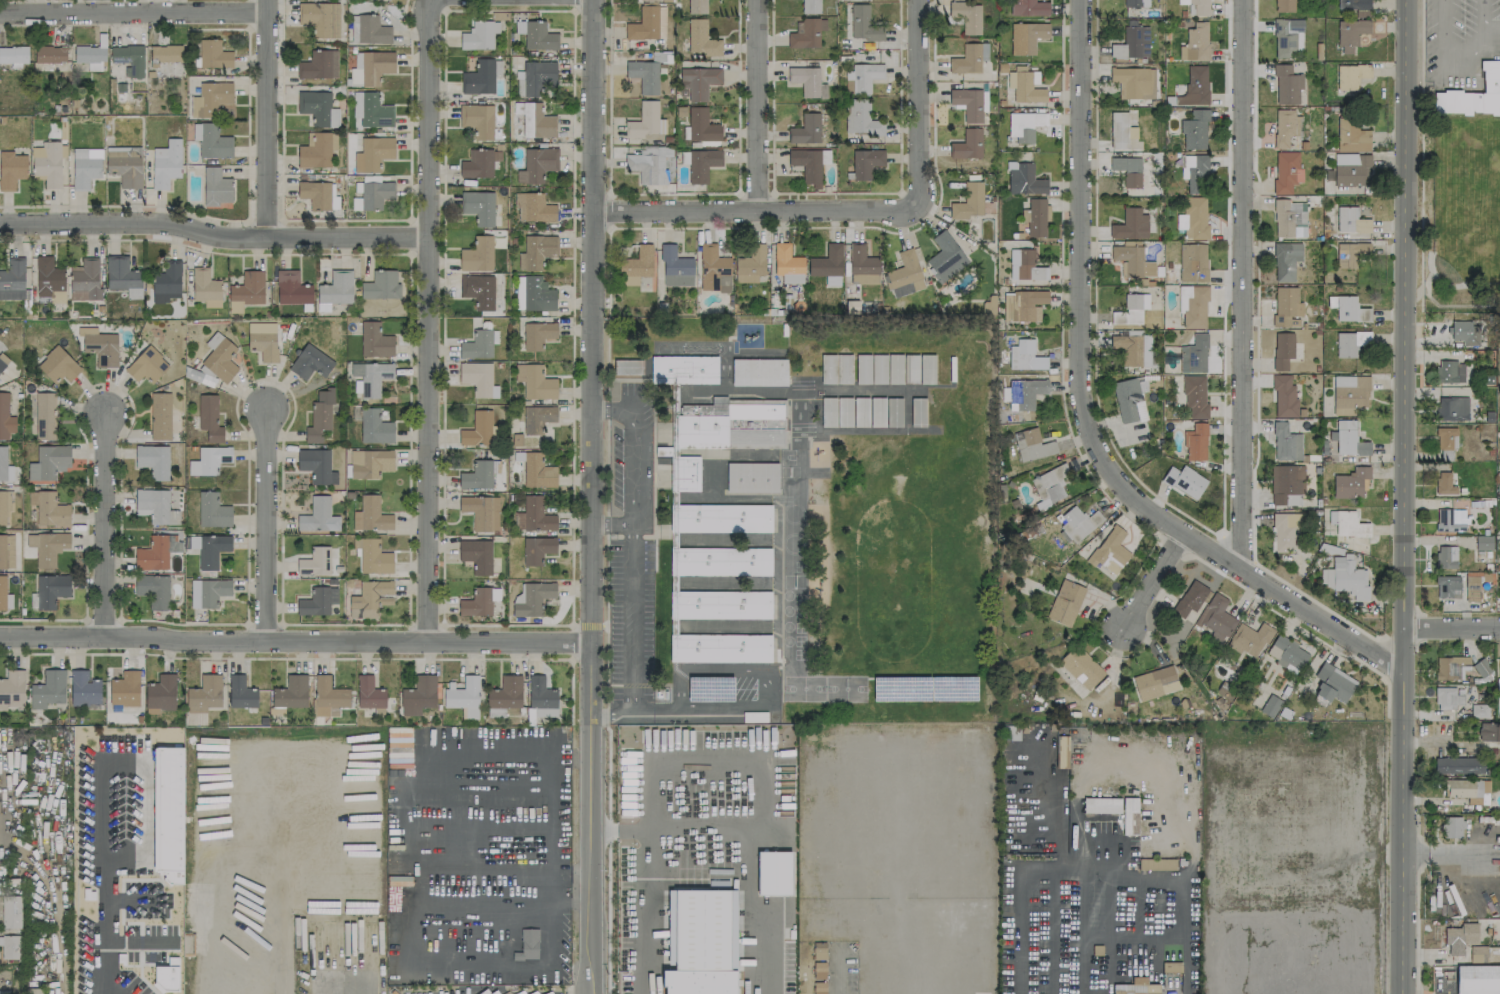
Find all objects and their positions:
building: (388, 0)
building: (648, 0)
building: (846, 0)
building: (1135, 3)
road: (431, 6)
building: (697, 6)
building: (810, 6)
building: (1196, 6)
building: (1284, 6)
building: (1028, 8)
road: (133, 11)
building: (1362, 13)
building: (967, 16)
building: (320, 18)
building: (647, 24)
building: (863, 24)
road: (1492, 27)
building: (354, 28)
building: (372, 30)
building: (807, 33)
building: (1350, 34)
building: (479, 35)
building: (536, 35)
building: (1286, 36)
building: (1026, 37)
building: (701, 39)
parking lot: (1458, 39)
building: (1195, 42)
building: (1132, 43)
building: (49, 54)
building: (165, 54)
building: (213, 54)
building: (13, 55)
building: (90, 57)
road: (1460, 57)
building: (128, 59)
building: (966, 60)
building: (319, 65)
building: (371, 67)
building: (644, 75)
building: (1351, 75)
building: (862, 77)
building: (479, 78)
building: (535, 78)
building: (807, 81)
building: (1133, 82)
building: (699, 83)
building: (1286, 85)
building: (1025, 86)
building: (1194, 86)
building: (1473, 94)
building: (210, 99)
building: (968, 103)
road: (756, 105)
building: (318, 108)
building: (371, 110)
road: (916, 111)
building: (517, 112)
road: (266, 118)
building: (860, 118)
building: (477, 119)
building: (537, 121)
building: (646, 121)
building: (702, 126)
building: (1024, 126)
building: (1285, 126)
building: (806, 129)
building: (1118, 130)
building: (1194, 130)
building: (1352, 135)
building: (211, 141)
building: (967, 144)
building: (315, 151)
building: (375, 152)
road: (1421, 154)
building: (866, 162)
building: (48, 163)
building: (166, 163)
building: (479, 163)
building: (702, 164)
building: (537, 165)
building: (652, 165)
building: (807, 165)
building: (124, 166)
building: (85, 167)
building: (11, 169)
building: (1352, 169)
building: (1127, 171)
building: (1286, 171)
building: (1194, 173)
building: (1023, 179)
building: (216, 187)
building: (317, 194)
building: (375, 194)
building: (968, 201)
building: (533, 208)
road: (742, 211)
park: (1464, 211)
building: (1035, 216)
building: (1193, 218)
building: (1289, 218)
building: (1350, 220)
building: (1130, 224)
road: (213, 235)
building: (536, 251)
building: (1350, 254)
building: (477, 255)
building: (945, 257)
building: (1285, 260)
building: (1132, 261)
building: (1192, 262)
building: (750, 264)
building: (788, 264)
building: (637, 265)
building: (828, 265)
building: (862, 265)
building: (1025, 265)
building: (676, 268)
building: (713, 269)
building: (904, 275)
building: (123, 276)
building: (13, 280)
building: (49, 280)
building: (85, 280)
building: (166, 282)
road: (1240, 284)
building: (204, 285)
building: (381, 285)
building: (292, 288)
building: (335, 290)
building: (478, 290)
building: (246, 291)
building: (533, 294)
building: (989, 305)
building: (1023, 305)
building: (1193, 306)
building: (1286, 307)
building: (1347, 308)
building: (1131, 310)
road: (428, 328)
building: (1465, 332)
building: (537, 335)
building: (263, 340)
building: (375, 340)
building: (1350, 343)
building: (478, 344)
building: (100, 346)
building: (1132, 349)
building: (1282, 350)
building: (1194, 355)
building: (1025, 356)
building: (219, 358)
building: (3, 361)
building: (310, 362)
building: (58, 365)
building: (146, 365)
building: (684, 369)
building: (836, 369)
building: (894, 369)
building: (1450, 371)
building: (759, 372)
building: (374, 378)
building: (478, 379)
building: (534, 382)
building: (1025, 392)
building: (1349, 394)
building: (1194, 395)
building: (1284, 396)
building: (1128, 400)
building: (1451, 409)
building: (885, 412)
building: (42, 416)
building: (320, 416)
building: (160, 417)
road: (1082, 417)
building: (5, 418)
building: (209, 418)
building: (534, 418)
building: (374, 427)
building: (477, 429)
building: (720, 434)
building: (1446, 438)
building: (1348, 439)
building: (529, 440)
building: (1195, 442)
building: (1286, 443)
building: (1032, 445)
road: (633, 448)
building: (153, 460)
building: (209, 460)
building: (49, 462)
building: (2, 463)
building: (370, 463)
building: (316, 466)
building: (537, 471)
building: (479, 474)
building: (752, 477)
building: (1184, 481)
building: (1350, 483)
building: (1444, 484)
building: (1050, 485)
building: (1287, 485)
road: (590, 496)
road: (1402, 496)
building: (5, 505)
building: (155, 506)
building: (1498, 506)
building: (49, 509)
building: (212, 511)
building: (481, 512)
building: (371, 515)
building: (533, 515)
building: (318, 516)
building: (724, 518)
building: (1450, 519)
road: (599, 524)
road: (620, 524)
building: (1078, 524)
building: (1349, 524)
road: (107, 526)
road: (269, 526)
building: (1282, 532)
building: (1483, 542)
building: (47, 547)
park: (901, 548)
building: (537, 549)
building: (212, 550)
building: (6, 551)
building: (1110, 551)
building: (1499, 551)
building: (155, 552)
building: (476, 555)
building: (373, 556)
building: (1445, 556)
building: (723, 560)
building: (317, 562)
building: (1345, 577)
road: (1151, 580)
building: (1447, 587)
building: (1471, 588)
building: (153, 589)
building: (51, 590)
building: (2, 592)
building: (212, 592)
building: (370, 598)
building: (533, 598)
building: (1189, 598)
building: (318, 601)
building: (479, 601)
building: (1065, 602)
building: (723, 604)
building: (1216, 618)
parking lot: (630, 619)
road: (588, 625)
road: (1450, 625)
road: (633, 638)
building: (1250, 638)
road: (294, 642)
building: (723, 647)
building: (1287, 653)
building: (1081, 667)
building: (1450, 667)
building: (1481, 667)
building: (1498, 669)
road: (763, 674)
building: (1155, 683)
building: (1332, 683)
parking lot: (724, 687)
park: (804, 687)
building: (12, 688)
building: (48, 689)
building: (84, 689)
building: (125, 689)
park: (846, 689)
building: (291, 692)
building: (240, 693)
building: (369, 693)
building: (505, 693)
building: (540, 693)
building: (161, 694)
building: (204, 694)
building: (418, 695)
building: (463, 696)
building: (329, 697)
building: (1447, 698)
building: (1270, 705)
road: (666, 707)
road: (643, 708)
building: (1479, 711)
building: (495, 712)
building: (545, 712)
building: (1489, 732)
building: (399, 742)
building: (1061, 751)
building: (1458, 765)
road: (1098, 767)
road: (750, 779)
building: (1468, 790)
road: (147, 803)
building: (1101, 805)
building: (170, 815)
building: (1129, 816)
building: (1452, 826)
road: (553, 841)
road: (1450, 852)
building: (1156, 864)
building: (774, 873)
road: (281, 876)
road: (104, 883)
building: (11, 912)
road: (650, 912)
building: (1459, 938)
building: (701, 942)
building: (10, 947)
building: (819, 951)
building: (1477, 954)
building: (819, 969)
road: (1058, 972)
road: (1188, 973)
road: (840, 975)
building: (168, 976)
building: (1477, 979)
building: (1171, 980)
building: (819, 987)

